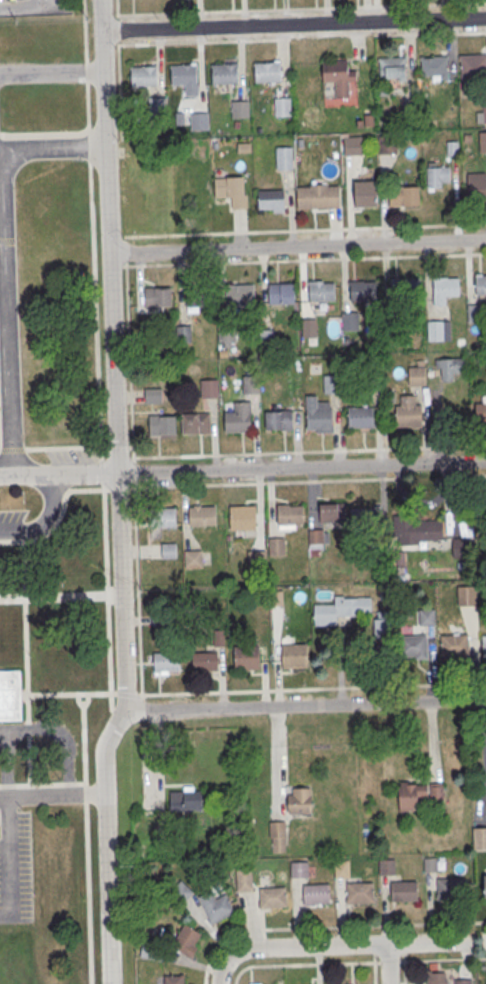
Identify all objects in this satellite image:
road: (24, 8)
road: (294, 8)
road: (293, 27)
road: (446, 33)
road: (155, 42)
road: (407, 47)
road: (85, 64)
building: (474, 65)
building: (435, 66)
building: (393, 68)
building: (336, 70)
road: (51, 72)
building: (267, 72)
building: (225, 73)
building: (184, 74)
building: (144, 76)
building: (157, 106)
building: (283, 107)
building: (240, 109)
building: (484, 113)
building: (199, 122)
road: (43, 134)
building: (484, 143)
road: (88, 146)
building: (353, 146)
building: (387, 146)
building: (285, 156)
building: (439, 177)
building: (477, 186)
building: (232, 191)
building: (367, 193)
building: (404, 196)
building: (318, 197)
building: (272, 200)
road: (303, 231)
road: (297, 247)
road: (126, 252)
road: (6, 260)
road: (304, 260)
road: (115, 267)
building: (481, 285)
building: (406, 288)
building: (447, 288)
building: (364, 291)
building: (322, 293)
building: (282, 294)
building: (241, 295)
building: (198, 296)
building: (158, 298)
road: (94, 313)
building: (350, 322)
building: (310, 329)
building: (439, 332)
building: (227, 333)
building: (184, 335)
building: (267, 339)
road: (112, 356)
road: (129, 363)
building: (449, 368)
building: (417, 378)
building: (333, 384)
building: (252, 385)
building: (209, 389)
building: (153, 395)
building: (481, 413)
building: (408, 415)
building: (361, 417)
building: (320, 419)
building: (279, 420)
building: (238, 422)
building: (196, 423)
building: (161, 424)
road: (62, 447)
road: (12, 449)
road: (282, 454)
road: (301, 468)
road: (102, 472)
road: (58, 473)
road: (133, 473)
road: (480, 476)
road: (270, 484)
road: (119, 489)
building: (332, 513)
building: (242, 514)
building: (290, 515)
building: (202, 516)
road: (59, 518)
building: (162, 518)
building: (365, 519)
road: (45, 521)
building: (416, 530)
building: (318, 539)
building: (460, 547)
building: (277, 548)
building: (169, 551)
building: (194, 560)
building: (257, 560)
road: (137, 590)
building: (467, 597)
building: (277, 598)
road: (107, 601)
building: (341, 610)
building: (427, 618)
building: (383, 626)
building: (484, 645)
building: (414, 646)
building: (455, 646)
building: (294, 656)
building: (247, 658)
building: (166, 662)
building: (205, 662)
road: (313, 688)
road: (128, 694)
building: (11, 695)
road: (303, 707)
road: (51, 794)
building: (418, 795)
building: (298, 800)
building: (186, 801)
road: (85, 821)
building: (277, 835)
building: (479, 839)
road: (104, 846)
road: (13, 862)
building: (430, 864)
building: (386, 866)
building: (342, 868)
building: (299, 869)
building: (244, 880)
building: (485, 885)
building: (450, 889)
building: (404, 892)
building: (180, 893)
building: (360, 893)
building: (316, 895)
building: (273, 898)
building: (216, 907)
road: (329, 927)
road: (479, 940)
building: (186, 941)
road: (344, 946)
building: (152, 952)
road: (364, 962)
road: (389, 964)
road: (374, 973)
road: (404, 973)
road: (220, 975)
road: (237, 975)
building: (436, 978)
building: (174, 979)
building: (463, 982)
building: (345, 983)

